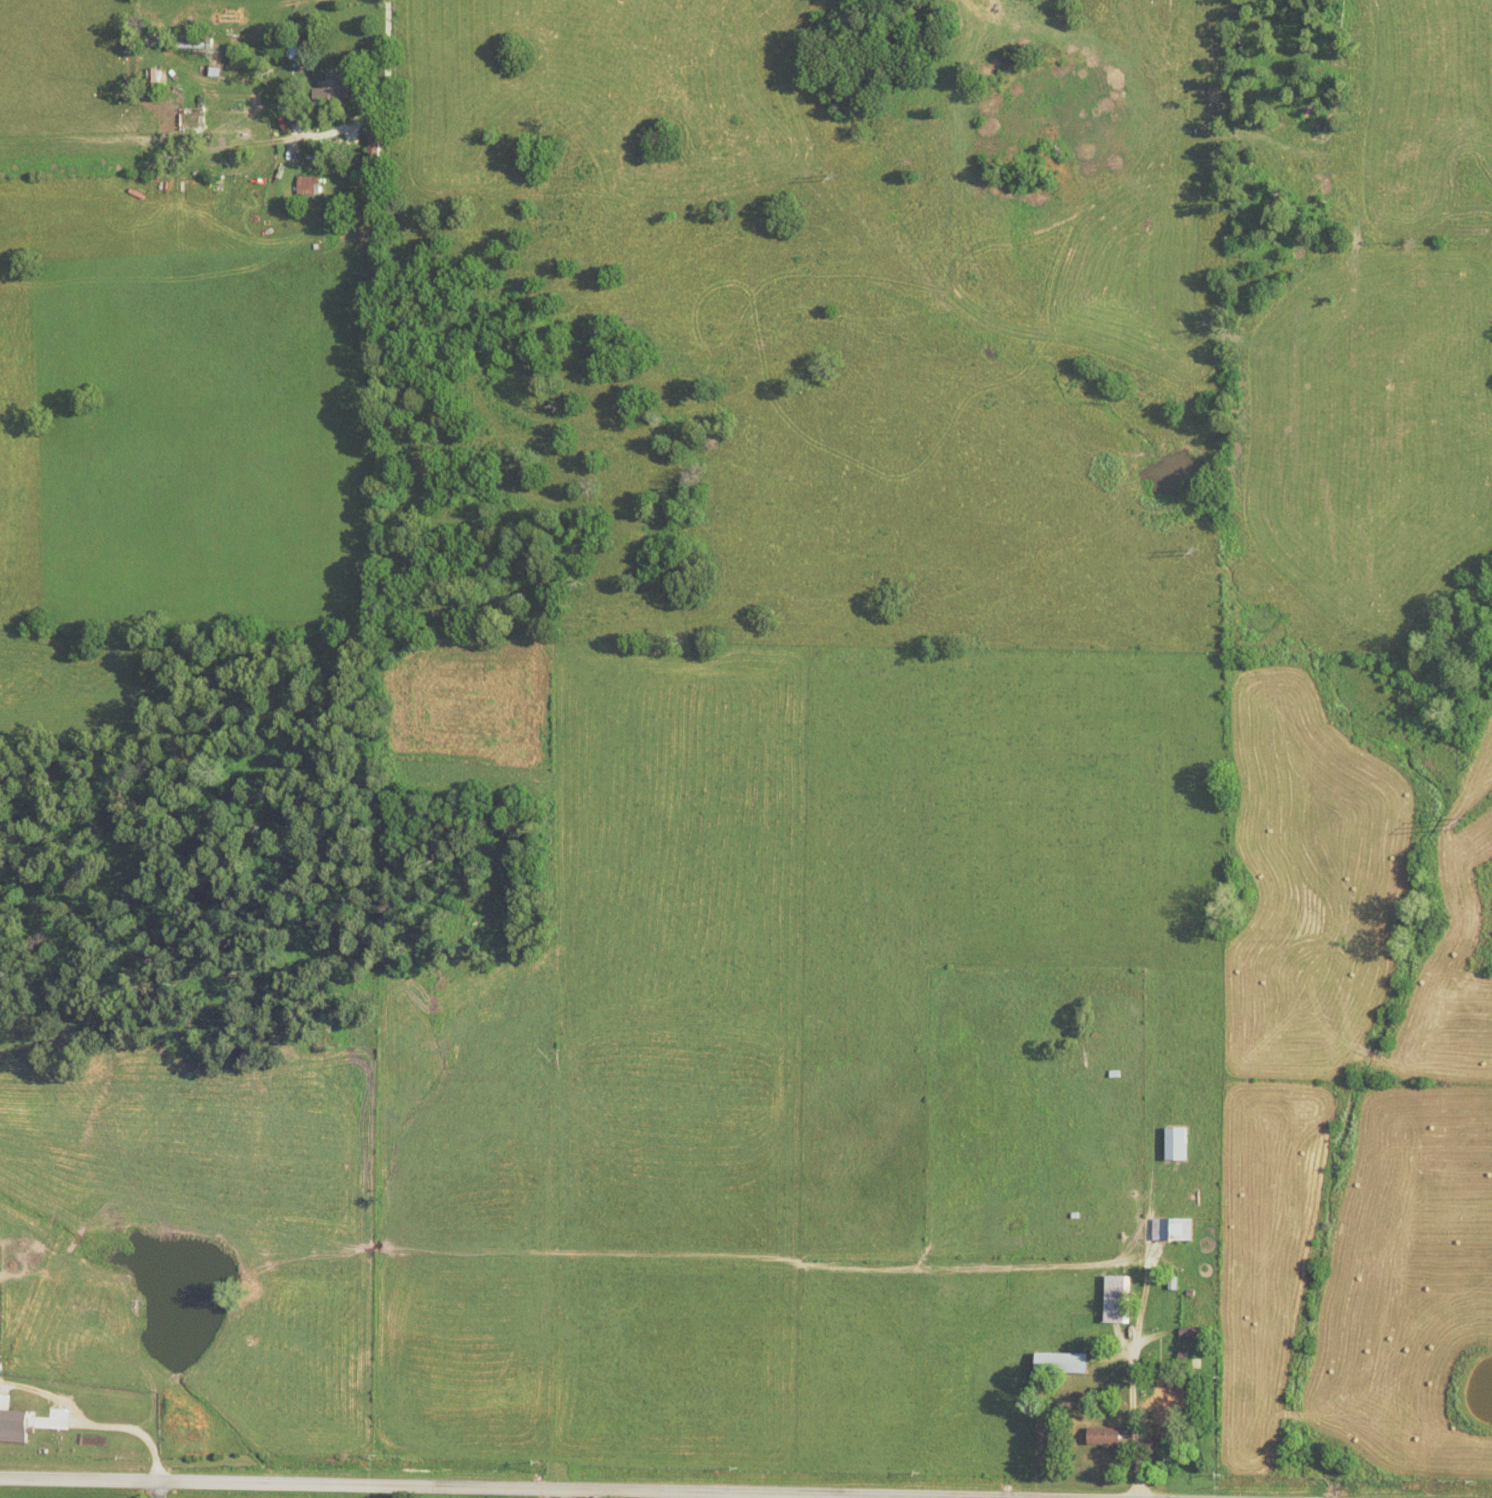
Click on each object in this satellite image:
road: (390, 63)
building: (218, 66)
building: (339, 86)
power tower: (840, 178)
building: (312, 184)
power tower: (1196, 550)
power tower: (1458, 824)
building: (1175, 1144)
building: (1171, 1229)
building: (1115, 1298)
building: (1057, 1362)
building: (1159, 1401)
road: (121, 1426)
building: (1099, 1436)
road: (419, 1489)
road: (161, 1491)

